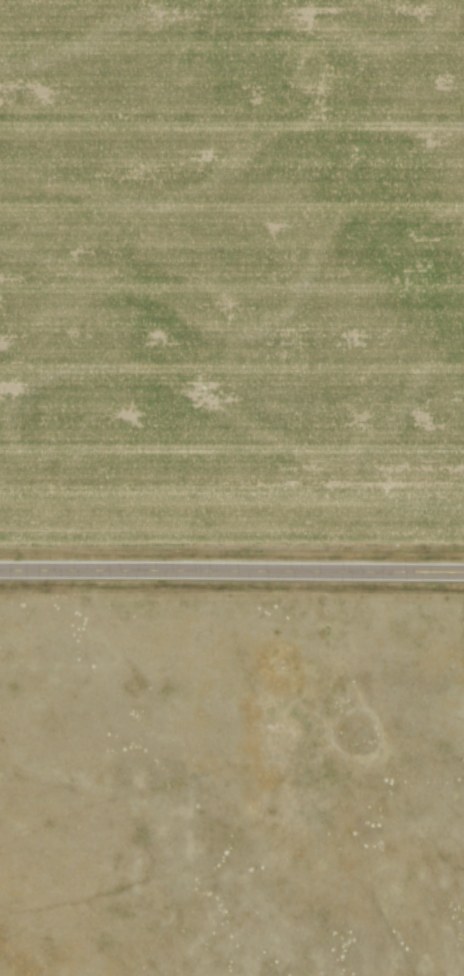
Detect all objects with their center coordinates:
crop: (232, 276)
road: (232, 571)

